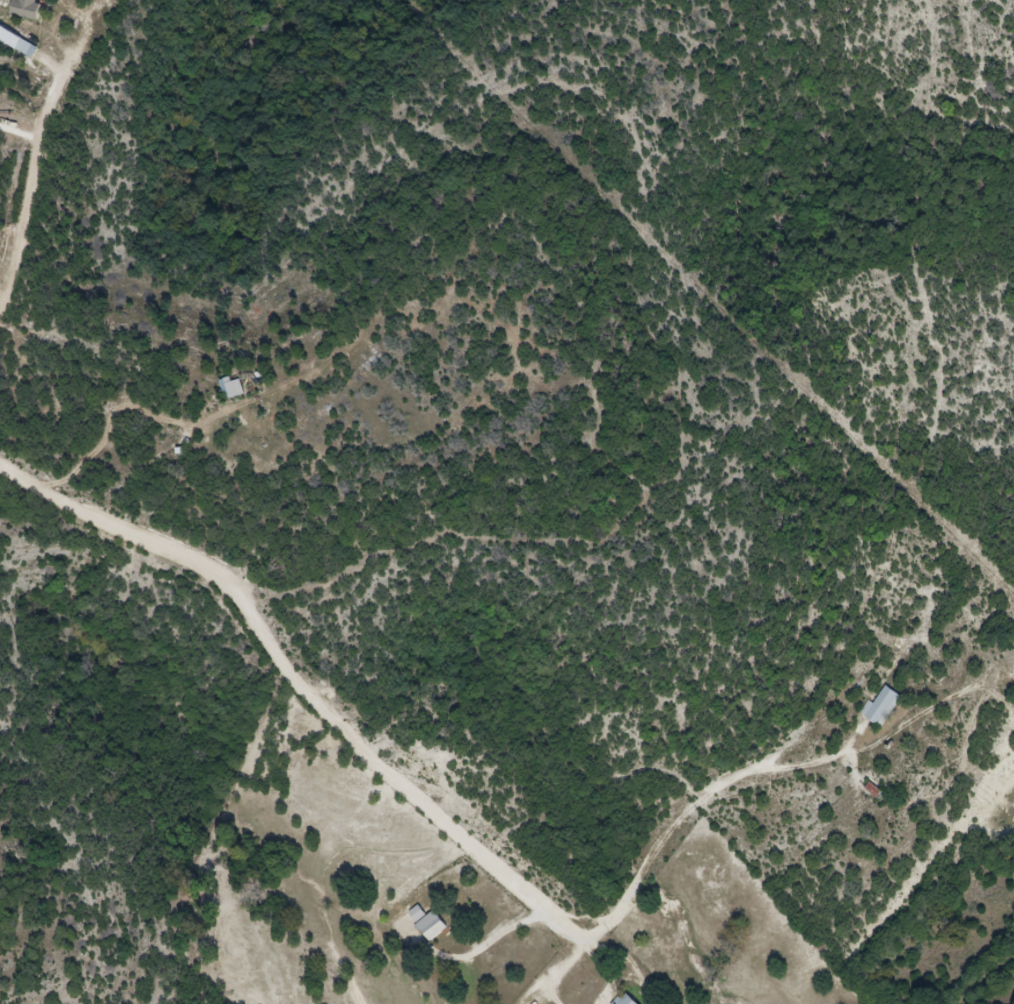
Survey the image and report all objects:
building: (35, 8)
building: (16, 35)
road: (60, 132)
building: (237, 391)
road: (119, 406)
road: (324, 677)
building: (885, 709)
road: (694, 777)
building: (443, 930)
road: (590, 976)
building: (633, 1000)

